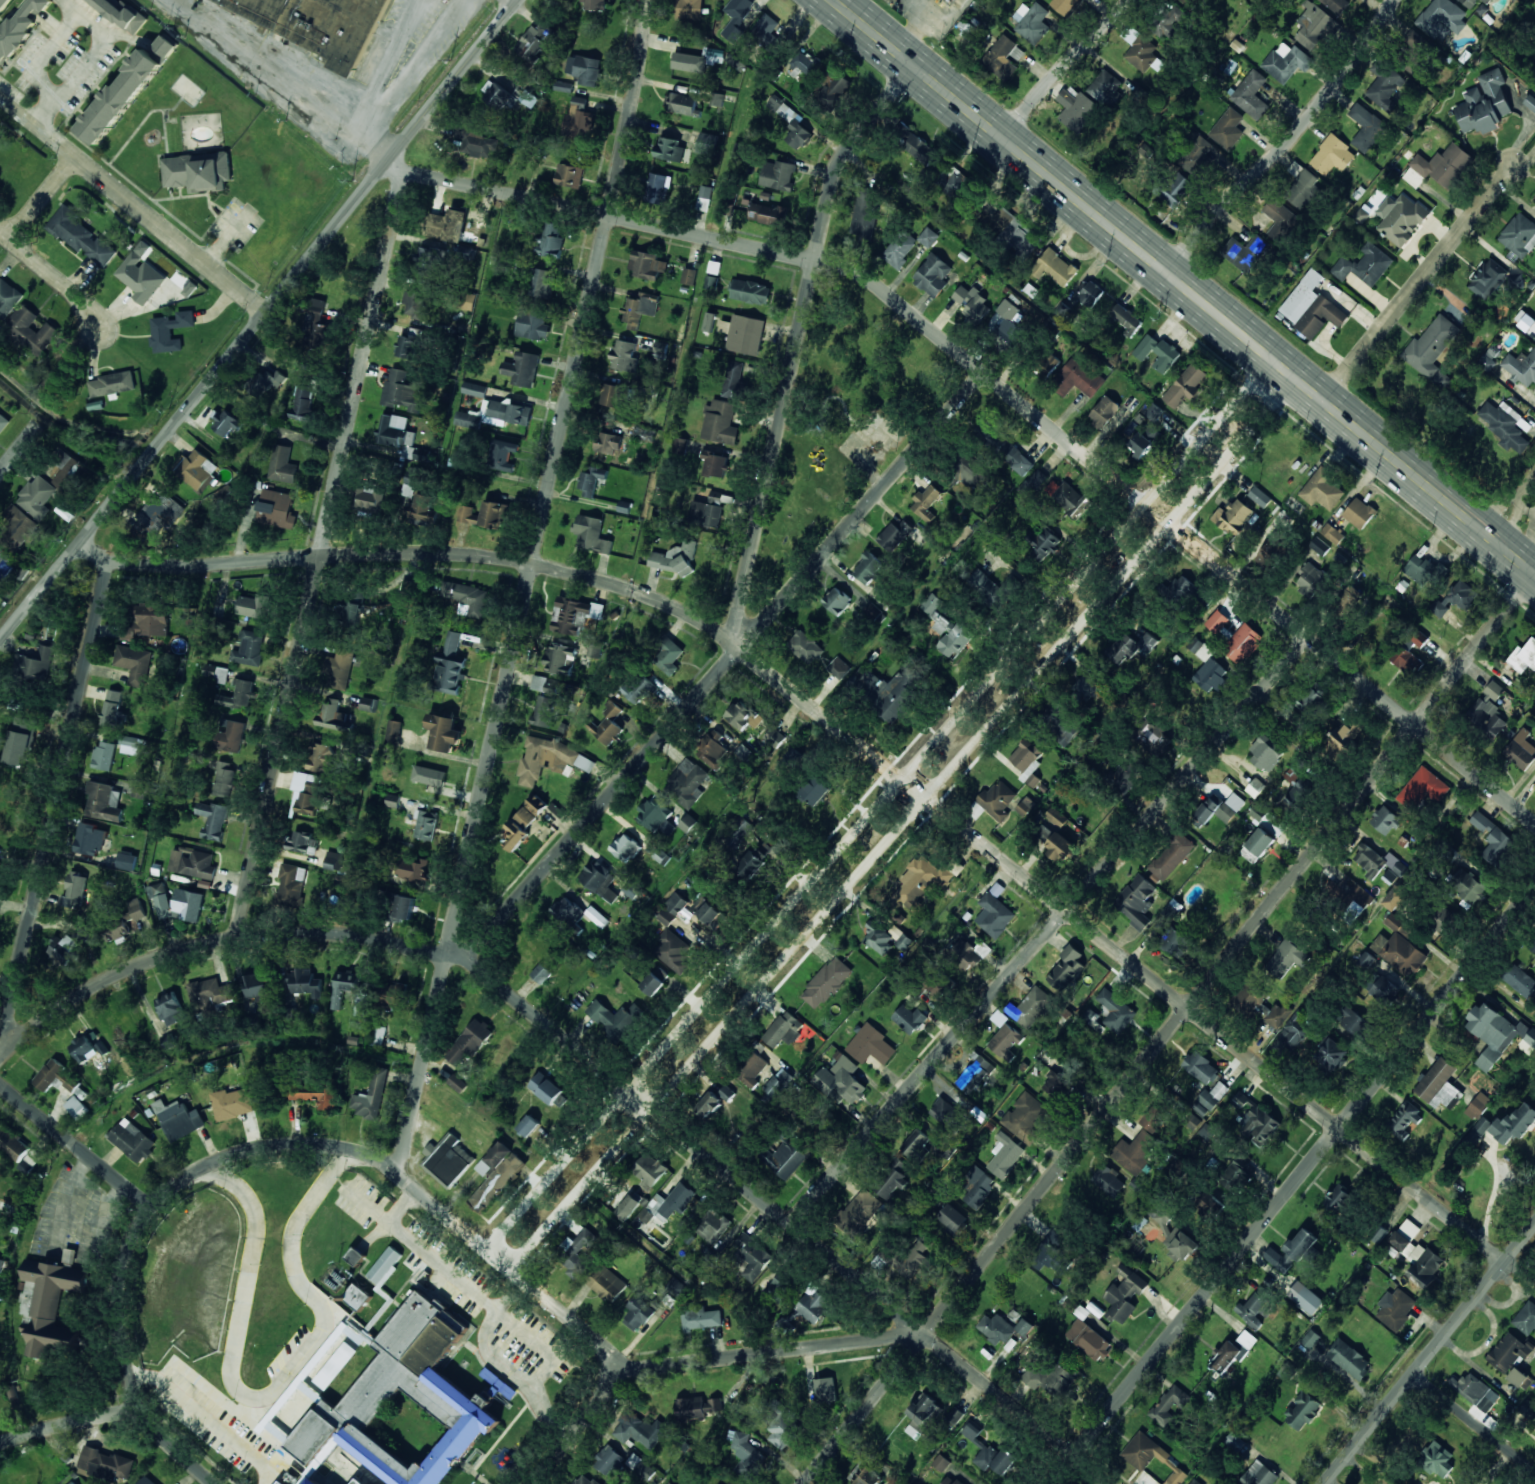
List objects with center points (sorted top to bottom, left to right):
road: (519, 1)
building: (1486, 1)
building: (1194, 3)
building: (1469, 3)
building: (4, 4)
building: (594, 5)
building: (1337, 5)
building: (1064, 6)
building: (691, 9)
building: (122, 14)
building: (737, 18)
building: (1442, 19)
building: (1167, 21)
building: (1032, 22)
building: (317, 23)
building: (1315, 25)
building: (20, 28)
building: (766, 32)
building: (536, 41)
building: (1143, 55)
building: (1003, 57)
road: (91, 58)
building: (690, 62)
building: (1287, 62)
building: (803, 64)
road: (1063, 69)
building: (588, 70)
road: (271, 72)
road: (406, 79)
building: (1385, 84)
building: (1103, 86)
building: (564, 87)
building: (833, 89)
building: (126, 90)
building: (1251, 95)
building: (499, 97)
building: (529, 99)
building: (717, 99)
building: (1531, 102)
building: (682, 103)
building: (1484, 104)
building: (1078, 112)
building: (580, 120)
building: (790, 122)
building: (1366, 127)
building: (1228, 129)
road: (1276, 137)
building: (477, 142)
building: (708, 143)
building: (917, 146)
building: (670, 150)
building: (1196, 154)
building: (1332, 155)
building: (1440, 166)
building: (198, 171)
building: (778, 175)
building: (569, 176)
building: (953, 183)
building: (657, 188)
building: (1302, 188)
building: (1173, 189)
building: (1534, 196)
building: (705, 197)
road: (42, 199)
road: (134, 205)
building: (864, 212)
building: (767, 213)
building: (1280, 220)
building: (1403, 221)
building: (446, 226)
building: (1013, 231)
building: (1519, 235)
building: (81, 236)
building: (928, 237)
building: (550, 241)
building: (900, 249)
building: (1245, 252)
building: (427, 258)
building: (647, 265)
building: (1365, 265)
building: (1057, 268)
building: (933, 275)
road: (53, 276)
building: (689, 276)
building: (141, 277)
building: (1487, 279)
building: (542, 283)
road: (1417, 283)
road: (1181, 287)
building: (751, 292)
building: (1092, 293)
building: (8, 296)
building: (1302, 296)
building: (469, 302)
building: (415, 303)
building: (972, 304)
building: (639, 309)
building: (1321, 317)
building: (316, 318)
building: (1125, 319)
building: (1008, 321)
building: (709, 322)
road: (262, 323)
building: (533, 325)
building: (31, 330)
building: (170, 331)
building: (745, 334)
building: (406, 346)
road: (796, 347)
building: (1145, 347)
building: (1432, 349)
building: (624, 356)
building: (1165, 356)
building: (1490, 357)
building: (1049, 364)
building: (1521, 368)
building: (522, 369)
building: (1077, 378)
building: (733, 380)
building: (264, 383)
building: (111, 384)
building: (1185, 385)
building: (474, 390)
building: (401, 391)
road: (1010, 394)
building: (611, 395)
building: (303, 403)
building: (1131, 403)
building: (1105, 411)
building: (509, 413)
building: (1157, 414)
building: (468, 420)
building: (225, 422)
building: (3, 423)
building: (720, 423)
park: (845, 423)
building: (1504, 425)
building: (398, 435)
building: (607, 443)
building: (1141, 444)
road: (20, 447)
building: (1005, 449)
building: (502, 455)
building: (715, 464)
building: (282, 465)
building: (68, 468)
building: (197, 468)
building: (972, 468)
building: (415, 473)
building: (1040, 475)
building: (1322, 489)
building: (1066, 496)
building: (37, 497)
building: (1259, 497)
building: (369, 499)
building: (926, 503)
road: (1512, 504)
building: (276, 509)
building: (419, 510)
building: (162, 512)
building: (707, 512)
building: (1359, 513)
building: (485, 515)
building: (1233, 516)
building: (18, 527)
building: (1332, 533)
building: (591, 534)
building: (894, 536)
building: (1042, 543)
building: (1319, 545)
building: (1268, 553)
road: (321, 554)
building: (4, 559)
building: (672, 560)
building: (868, 568)
building: (1421, 569)
building: (1310, 580)
road: (523, 587)
building: (988, 588)
building: (1180, 589)
building: (467, 597)
building: (1456, 598)
building: (836, 601)
building: (255, 606)
building: (350, 613)
building: (937, 614)
building: (574, 615)
building: (148, 621)
building: (1216, 621)
building: (956, 641)
building: (1417, 641)
building: (1242, 644)
building: (1131, 645)
building: (806, 647)
building: (249, 648)
building: (1201, 650)
building: (669, 653)
building: (1523, 656)
building: (560, 659)
building: (1406, 660)
building: (37, 663)
building: (135, 664)
building: (450, 664)
road: (724, 665)
building: (341, 667)
building: (839, 667)
building: (1210, 675)
building: (640, 688)
building: (1087, 688)
building: (240, 694)
building: (891, 695)
building: (1313, 698)
building: (543, 701)
building: (112, 707)
building: (1489, 711)
building: (336, 716)
building: (743, 716)
building: (608, 724)
building: (1061, 725)
building: (394, 728)
building: (444, 732)
building: (1345, 735)
building: (231, 736)
building: (1154, 740)
road: (855, 743)
building: (129, 745)
building: (19, 748)
building: (1521, 749)
building: (713, 750)
building: (1266, 754)
building: (104, 756)
building: (793, 756)
building: (321, 758)
building: (549, 759)
building: (1028, 760)
building: (430, 775)
building: (1291, 775)
building: (1125, 776)
building: (224, 779)
building: (687, 783)
building: (1255, 787)
building: (1422, 789)
building: (815, 791)
building: (306, 792)
building: (1299, 794)
road: (56, 799)
building: (997, 800)
building: (103, 801)
road: (879, 805)
building: (1026, 806)
building: (1209, 808)
building: (1230, 808)
building: (656, 816)
building: (1056, 816)
building: (213, 819)
building: (1385, 820)
building: (1269, 821)
building: (688, 823)
building: (424, 824)
building: (521, 824)
road: (902, 824)
building: (740, 828)
building: (90, 839)
building: (1493, 840)
building: (1260, 842)
building: (303, 843)
building: (1056, 843)
building: (626, 848)
building: (1170, 856)
building: (756, 859)
building: (127, 861)
building: (334, 861)
building: (1370, 861)
building: (193, 864)
building: (412, 869)
building: (600, 881)
building: (921, 881)
building: (292, 885)
building: (1465, 887)
building: (75, 890)
building: (1351, 894)
building: (1395, 898)
building: (1137, 901)
building: (176, 902)
building: (676, 904)
building: (404, 908)
building: (135, 909)
building: (568, 911)
building: (995, 912)
building: (712, 915)
building: (597, 917)
building: (666, 917)
building: (1442, 918)
building: (116, 929)
road: (1048, 930)
building: (879, 939)
building: (1172, 941)
building: (71, 942)
building: (1533, 946)
building: (1399, 948)
building: (673, 951)
building: (966, 956)
building: (56, 957)
building: (1285, 959)
building: (1366, 961)
building: (1067, 969)
building: (541, 973)
building: (1520, 980)
building: (305, 983)
building: (653, 983)
building: (826, 983)
building: (344, 986)
building: (939, 986)
building: (256, 988)
building: (1383, 990)
building: (209, 993)
building: (1253, 995)
building: (395, 996)
building: (1030, 1007)
building: (170, 1009)
building: (1116, 1011)
building: (1278, 1015)
building: (611, 1018)
building: (910, 1019)
building: (1351, 1021)
building: (784, 1029)
building: (1296, 1032)
building: (1004, 1034)
building: (1493, 1034)
building: (380, 1036)
road: (1174, 1038)
building: (470, 1042)
building: (1528, 1042)
building: (871, 1045)
building: (82, 1048)
building: (1332, 1055)
road: (592, 1062)
building: (1201, 1067)
building: (752, 1070)
building: (974, 1074)
building: (56, 1076)
building: (841, 1081)
building: (457, 1083)
building: (1055, 1085)
building: (1439, 1085)
building: (549, 1091)
building: (727, 1093)
building: (315, 1096)
building: (371, 1096)
building: (1210, 1099)
building: (232, 1103)
building: (709, 1105)
building: (1478, 1106)
building: (76, 1107)
building: (944, 1112)
building: (1025, 1118)
building: (1254, 1118)
building: (178, 1119)
building: (1403, 1121)
building: (1153, 1122)
building: (1515, 1124)
building: (528, 1125)
building: (1479, 1128)
building: (132, 1140)
building: (11, 1145)
road: (75, 1145)
building: (918, 1145)
road: (270, 1149)
building: (1134, 1152)
building: (1005, 1155)
building: (784, 1159)
building: (446, 1160)
building: (28, 1162)
building: (649, 1170)
building: (495, 1174)
building: (1234, 1177)
building: (891, 1179)
building: (1108, 1180)
road: (1292, 1185)
building: (976, 1187)
building: (1339, 1199)
building: (668, 1205)
building: (628, 1207)
building: (859, 1212)
building: (1161, 1213)
building: (952, 1219)
building: (713, 1226)
road: (1519, 1241)
building: (1301, 1244)
building: (1180, 1245)
building: (1055, 1252)
building: (576, 1254)
building: (1416, 1254)
building: (752, 1256)
building: (353, 1258)
building: (913, 1259)
building: (1278, 1259)
building: (1, 1264)
building: (380, 1266)
road: (514, 1271)
building: (1124, 1271)
building: (606, 1283)
building: (676, 1288)
building: (780, 1288)
building: (354, 1296)
building: (1125, 1297)
building: (1305, 1298)
building: (52, 1305)
building: (813, 1305)
building: (1255, 1307)
building: (1396, 1309)
building: (638, 1313)
building: (292, 1318)
building: (1526, 1318)
building: (701, 1319)
building: (1002, 1328)
building: (312, 1332)
building: (339, 1334)
building: (1089, 1340)
building: (331, 1348)
building: (1233, 1351)
building: (263, 1352)
building: (1508, 1352)
road: (779, 1355)
road: (126, 1358)
building: (316, 1359)
building: (1349, 1359)
building: (336, 1365)
building: (283, 1366)
road: (1413, 1372)
building: (1518, 1377)
building: (1050, 1379)
building: (302, 1386)
building: (825, 1390)
building: (407, 1401)
building: (253, 1404)
building: (1169, 1405)
building: (696, 1407)
building: (1303, 1411)
building: (922, 1414)
building: (955, 1415)
building: (274, 1421)
road: (71, 1427)
road: (580, 1427)
road: (1472, 1429)
building: (640, 1430)
building: (782, 1430)
building: (1233, 1443)
building: (980, 1447)
building: (1143, 1451)
building: (745, 1457)
building: (1436, 1459)
building: (609, 1460)
building: (1005, 1462)
building: (941, 1463)
building: (107, 1464)
building: (641, 1467)
building: (864, 1475)
building: (1259, 1475)
building: (584, 1480)
building: (952, 1480)
building: (146, 1481)
building: (283, 1482)
building: (692, 1482)
building: (733, 1482)
building: (1196, 1482)
building: (71, 1483)
building: (718, 1483)

